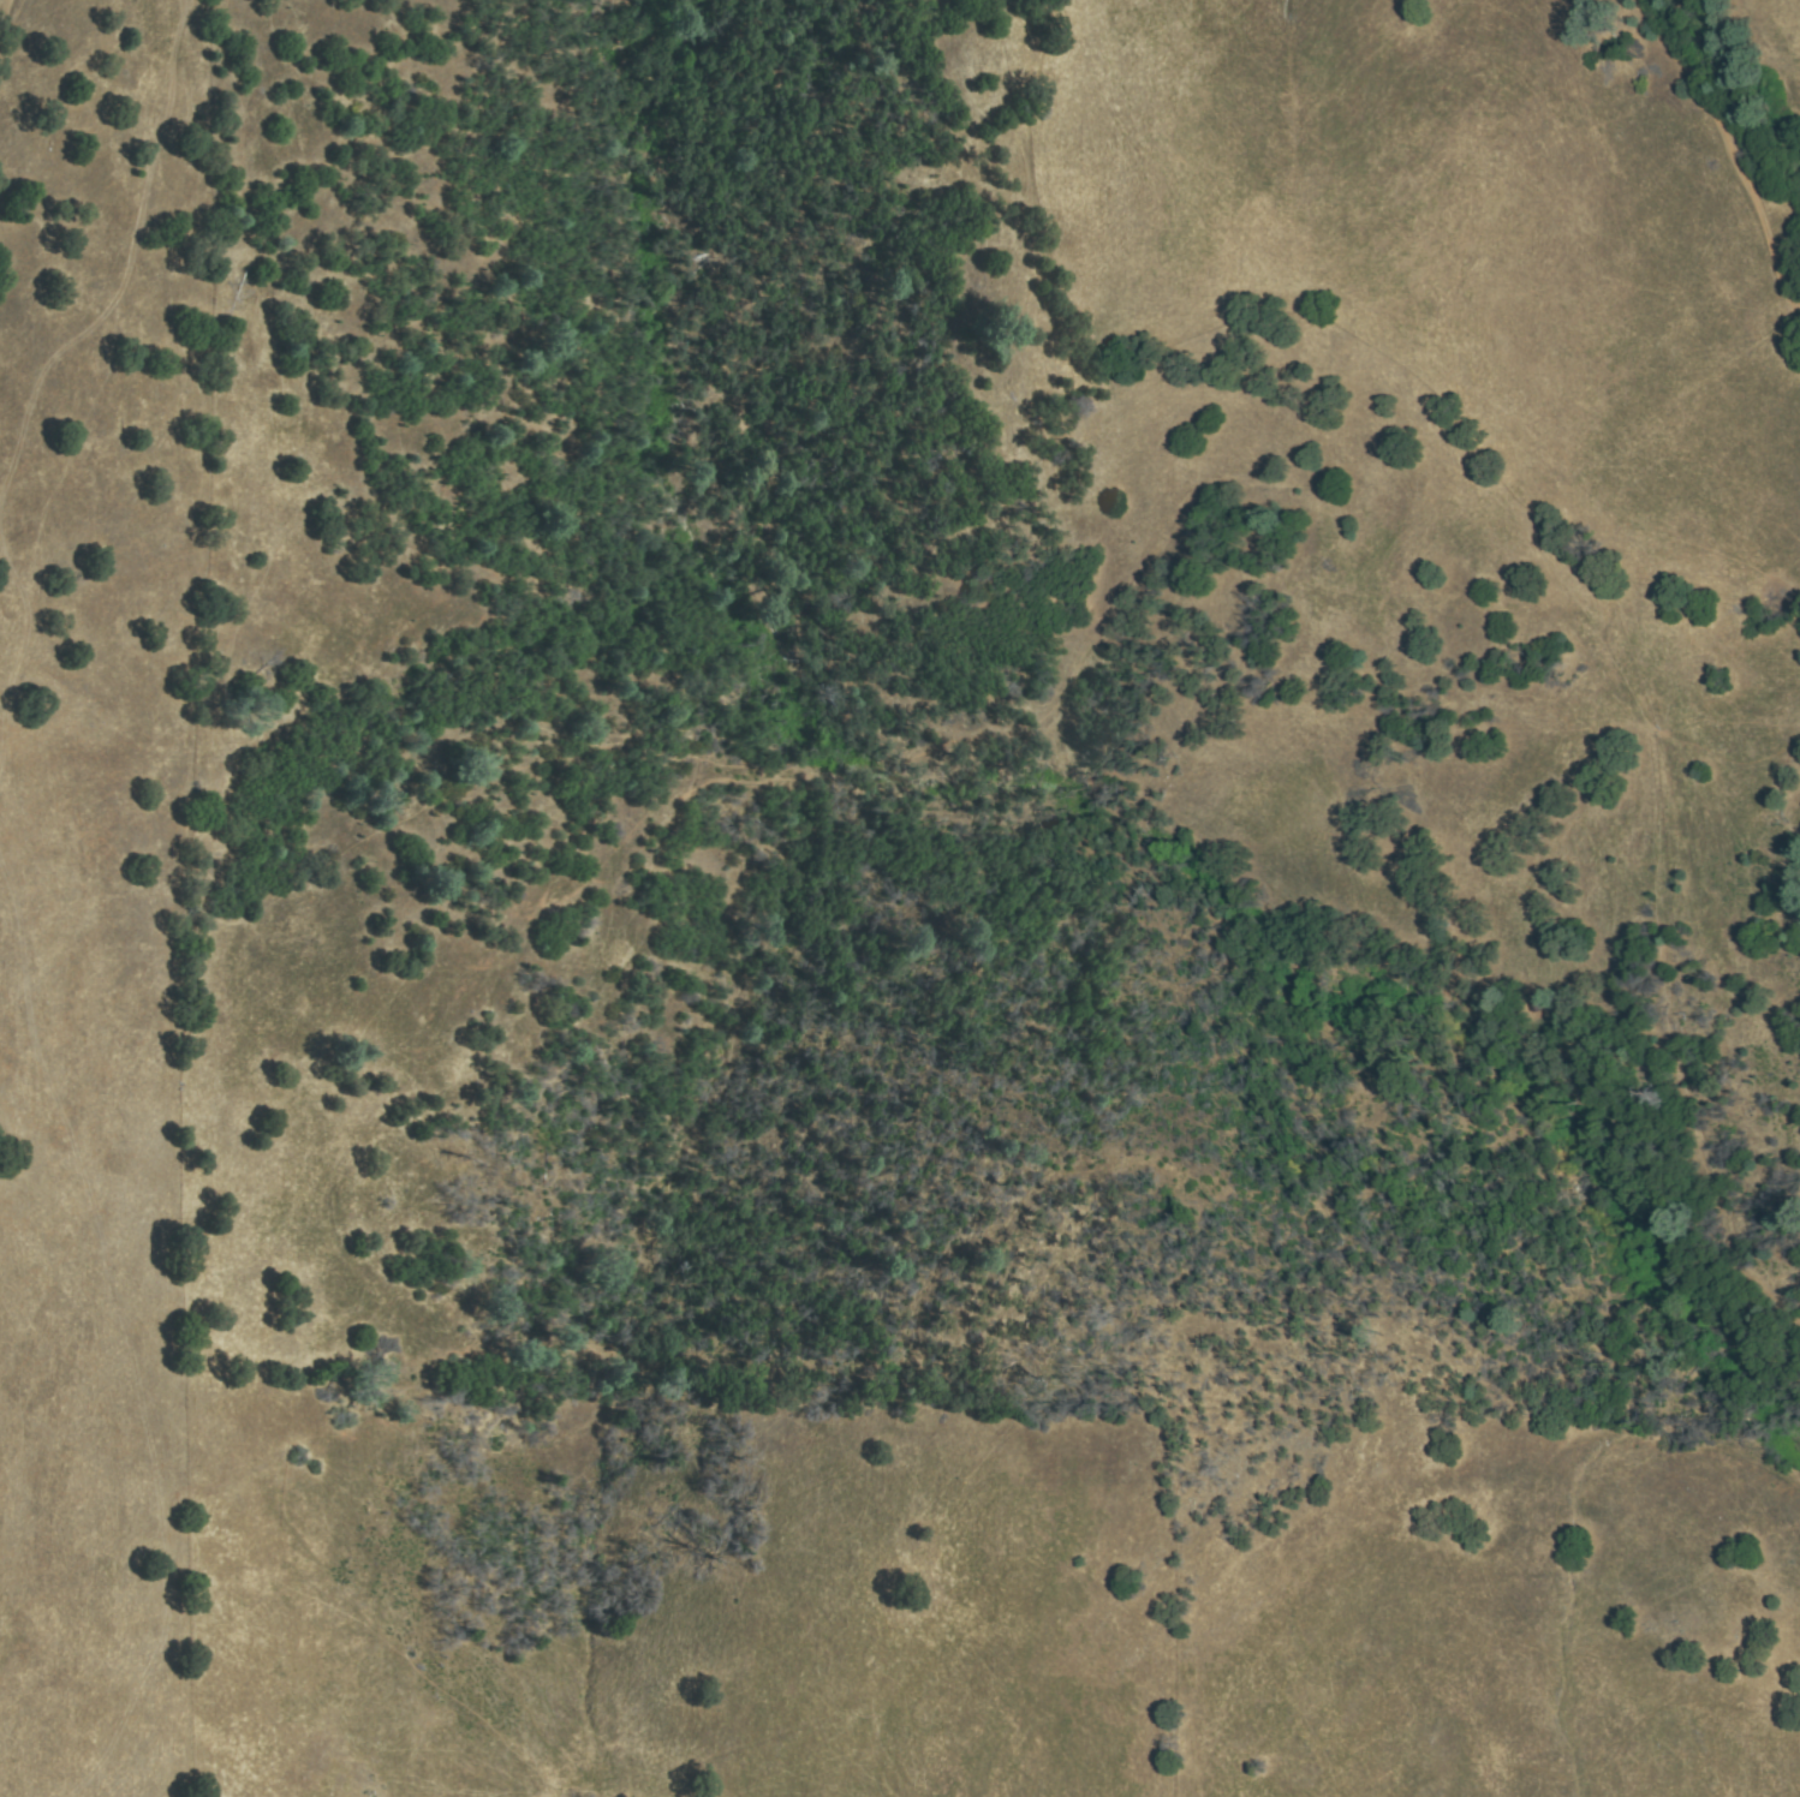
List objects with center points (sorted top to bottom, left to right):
building: (1526, 1005)

